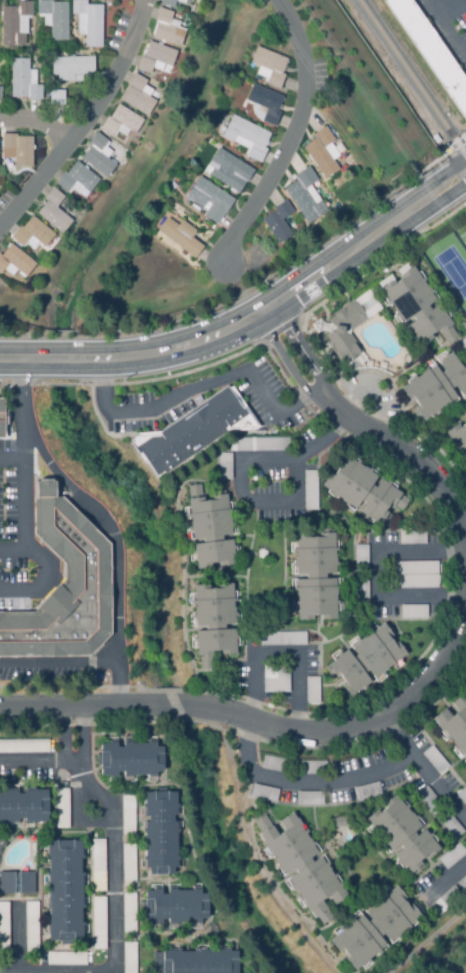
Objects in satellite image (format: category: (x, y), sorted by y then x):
building: (171, 3)
building: (54, 20)
building: (89, 23)
building: (14, 25)
road: (446, 28)
building: (167, 30)
building: (430, 52)
building: (155, 59)
building: (268, 68)
building: (71, 69)
railway: (411, 79)
building: (24, 82)
building: (138, 97)
building: (56, 99)
building: (265, 104)
building: (120, 123)
road: (87, 124)
road: (37, 125)
road: (295, 135)
building: (246, 138)
building: (18, 150)
building: (322, 154)
building: (98, 157)
building: (227, 172)
power tower: (418, 176)
building: (77, 181)
power tower: (390, 193)
building: (305, 197)
building: (209, 201)
building: (53, 213)
building: (278, 223)
power tower: (419, 233)
building: (32, 235)
building: (180, 238)
building: (15, 264)
building: (417, 308)
road: (253, 321)
building: (347, 330)
building: (463, 347)
road: (198, 389)
building: (436, 389)
road: (373, 393)
building: (464, 418)
building: (2, 421)
road: (376, 431)
building: (193, 433)
building: (458, 440)
building: (259, 446)
road: (31, 456)
building: (224, 468)
road: (241, 469)
building: (310, 492)
building: (362, 492)
building: (210, 530)
road: (464, 530)
road: (26, 537)
building: (412, 539)
road: (116, 550)
road: (17, 551)
building: (361, 560)
road: (376, 575)
building: (416, 575)
building: (315, 577)
building: (64, 589)
building: (362, 593)
building: (414, 613)
building: (213, 623)
building: (281, 640)
road: (282, 654)
building: (366, 661)
building: (275, 678)
road: (114, 681)
building: (312, 690)
road: (276, 699)
building: (455, 725)
road: (261, 726)
road: (83, 732)
road: (64, 733)
building: (24, 748)
building: (129, 759)
road: (74, 760)
road: (32, 761)
building: (435, 761)
building: (275, 766)
building: (309, 769)
road: (348, 783)
building: (367, 793)
building: (264, 794)
building: (462, 797)
building: (309, 799)
building: (429, 801)
building: (23, 807)
building: (62, 810)
building: (130, 817)
building: (339, 823)
building: (450, 826)
building: (160, 834)
building: (402, 835)
road: (113, 857)
building: (452, 857)
building: (130, 865)
building: (302, 866)
building: (99, 867)
building: (17, 885)
road: (446, 885)
building: (462, 885)
building: (65, 891)
building: (445, 902)
building: (176, 908)
building: (131, 915)
building: (99, 924)
building: (4, 927)
building: (31, 929)
building: (374, 930)
building: (132, 958)
building: (66, 960)
building: (195, 963)

